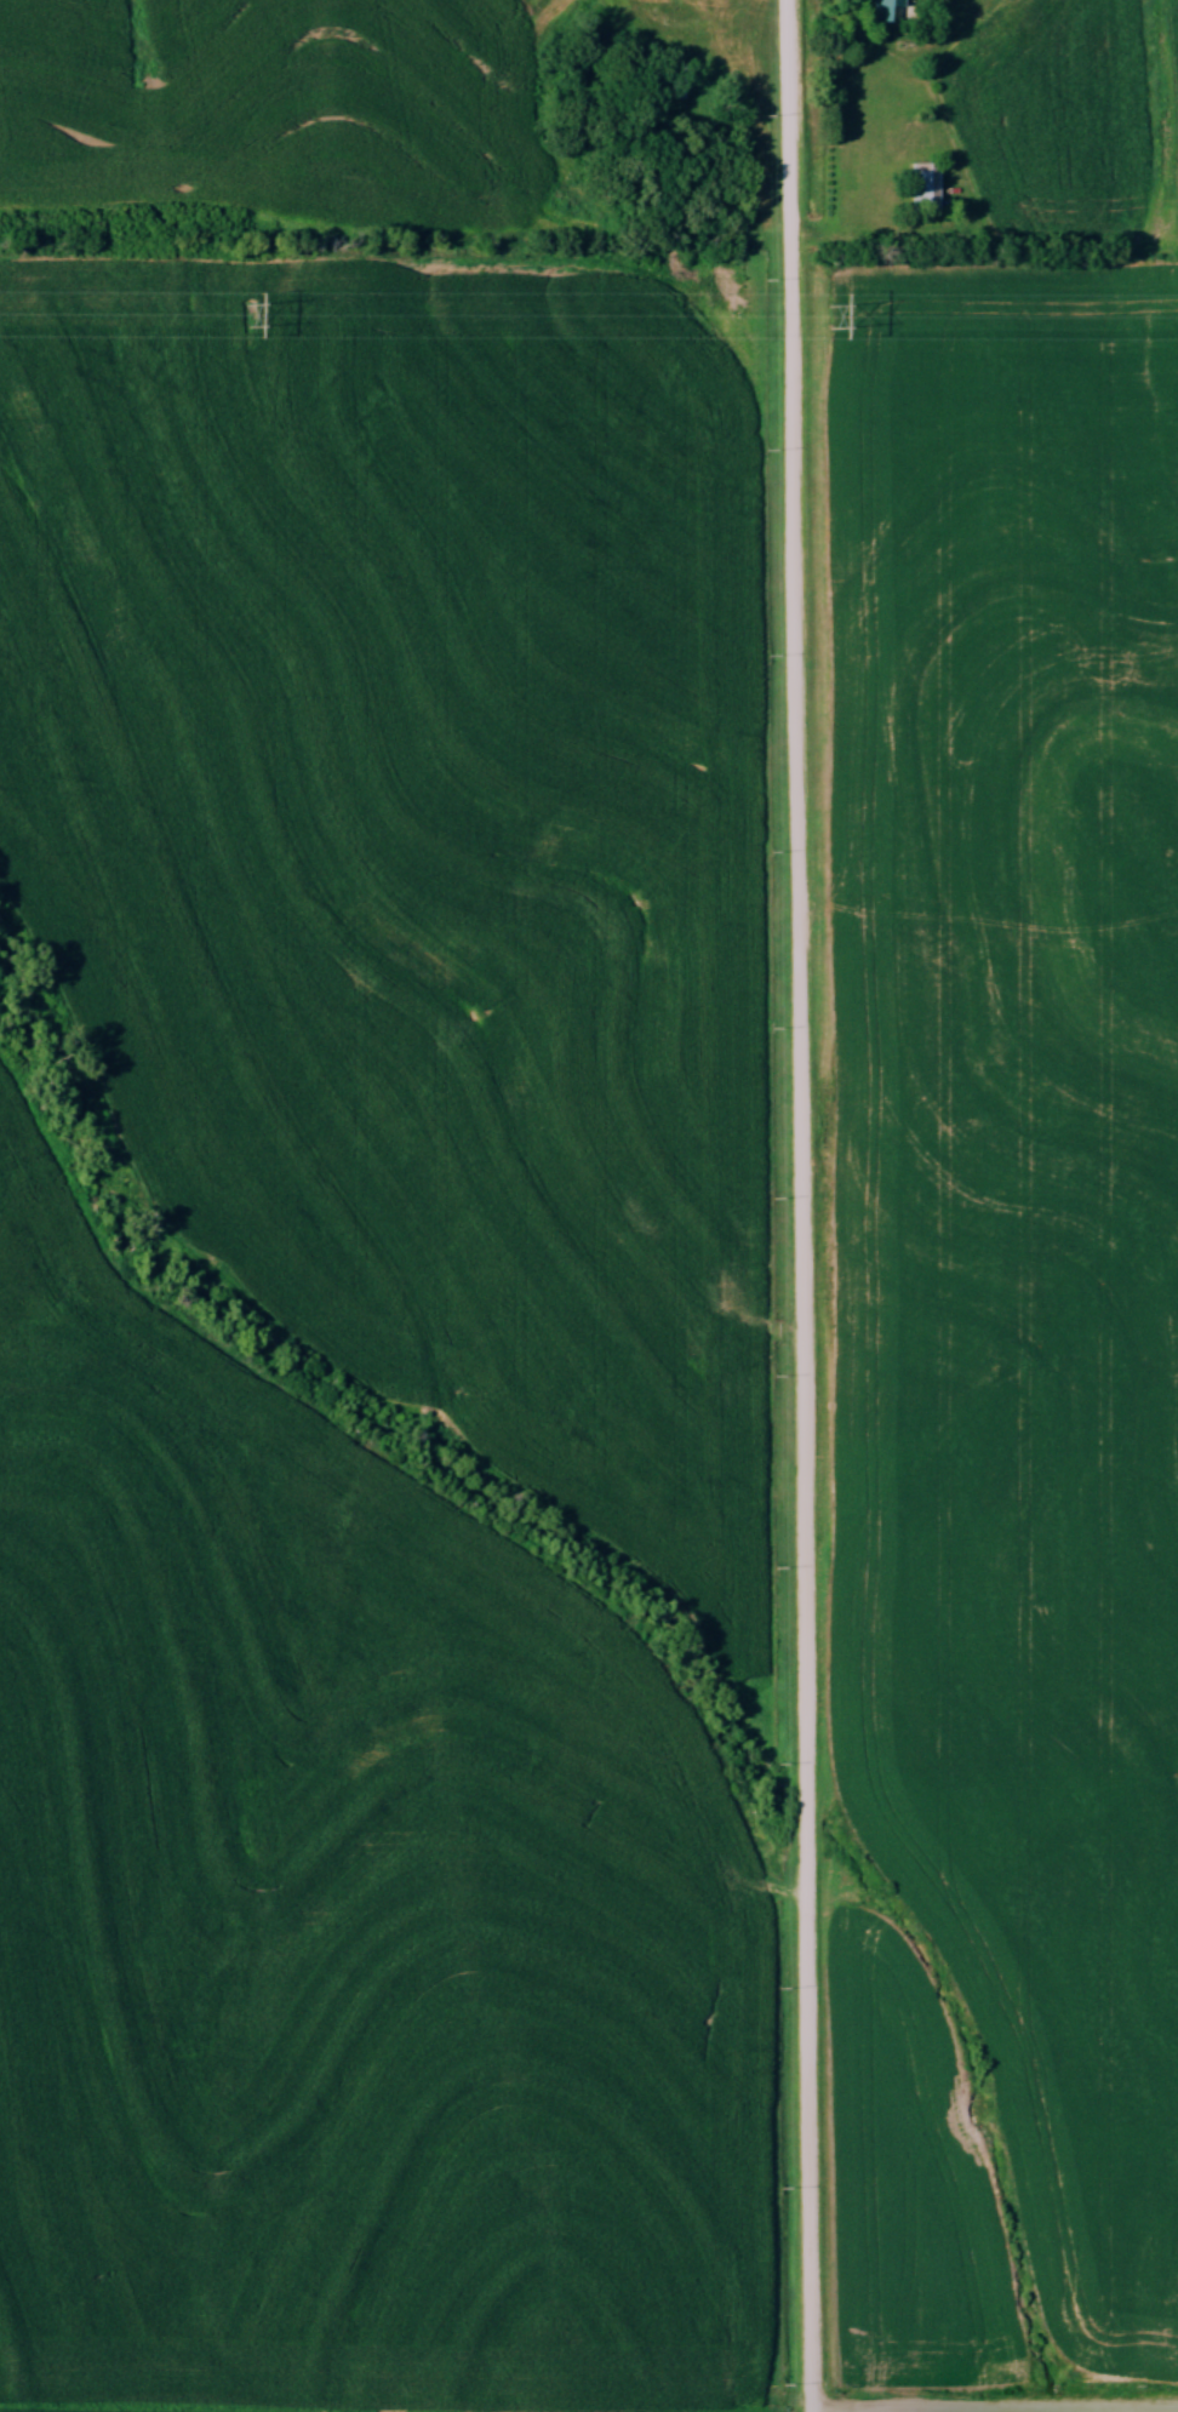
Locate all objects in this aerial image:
building: (887, 8)
building: (679, 85)
building: (926, 183)
power tower: (247, 314)
power tower: (828, 318)
road: (802, 1206)

